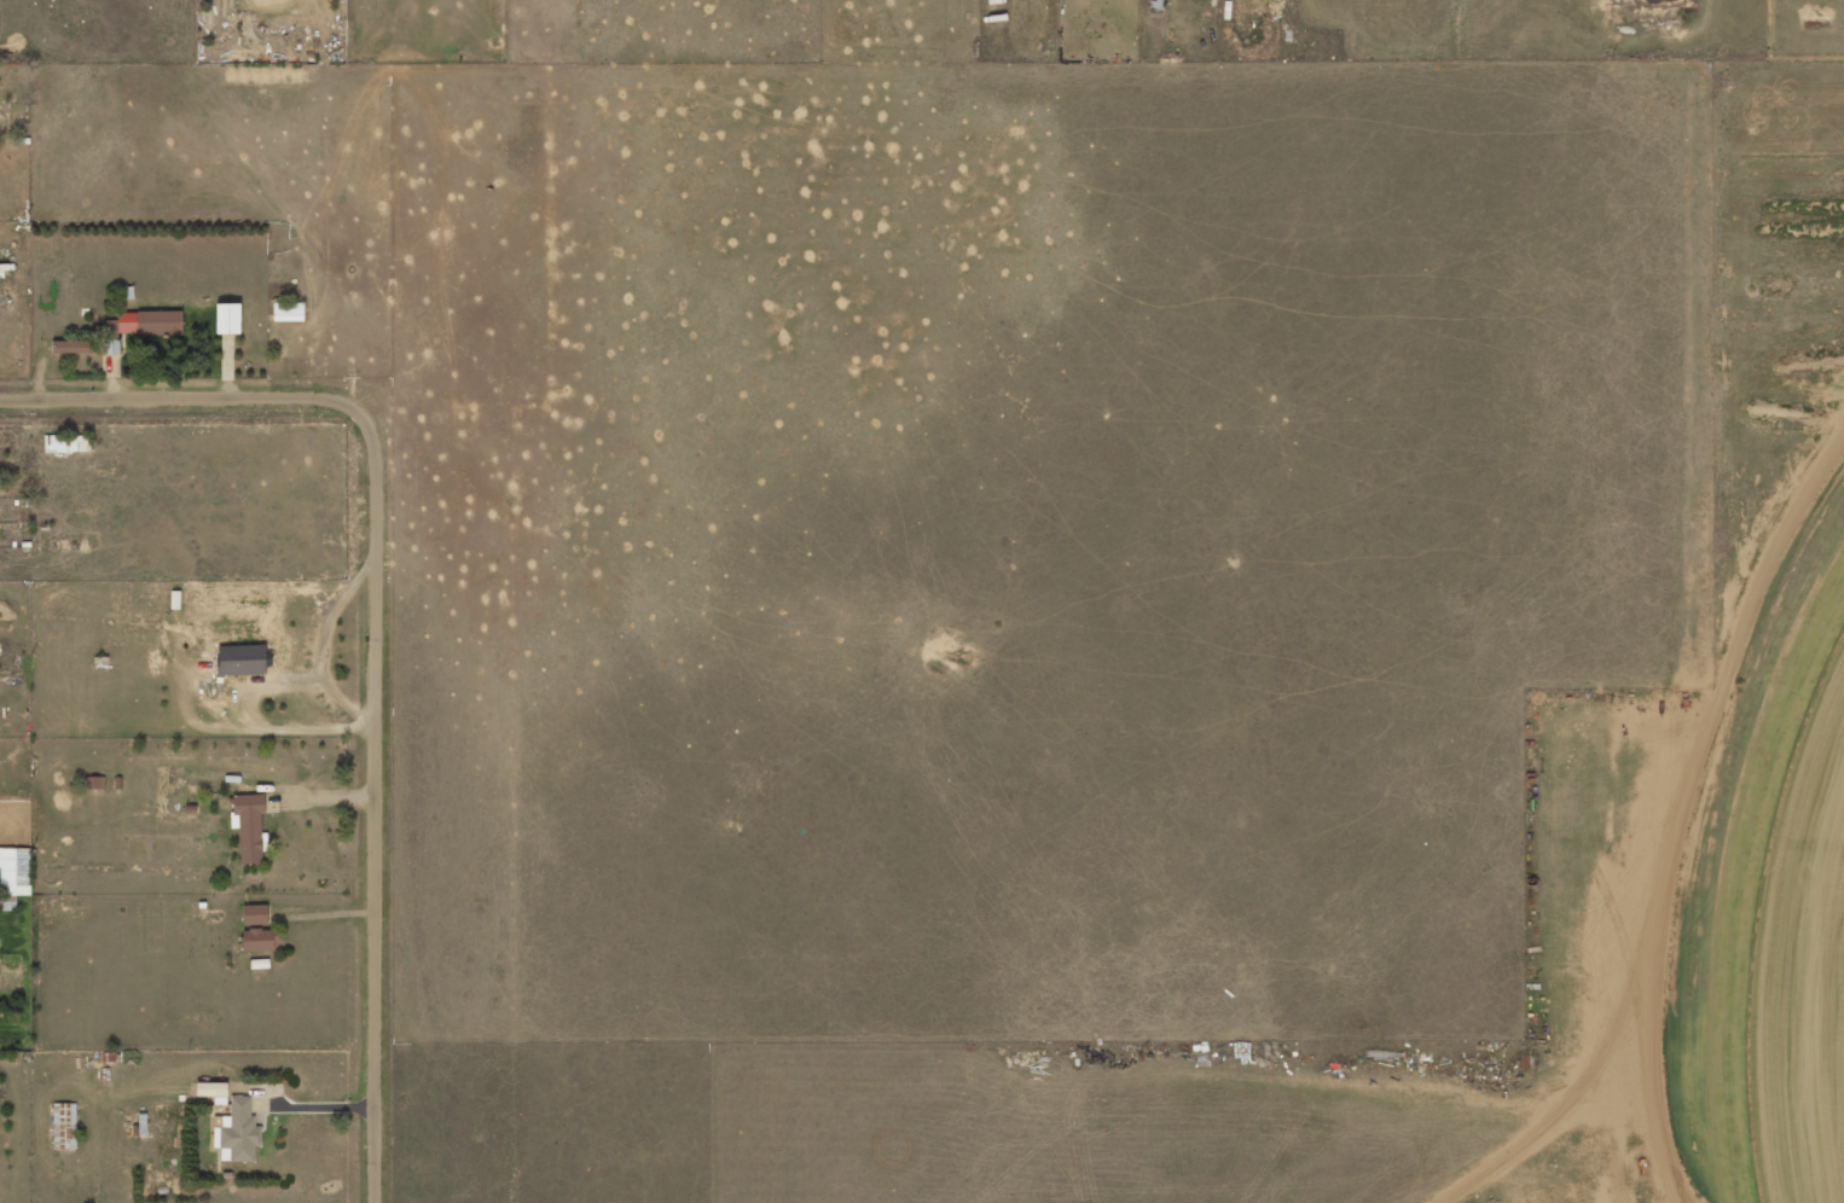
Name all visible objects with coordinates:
building: (286, 312)
building: (226, 318)
building: (149, 322)
building: (110, 336)
building: (71, 345)
building: (65, 443)
road: (378, 622)
building: (240, 659)
building: (93, 781)
building: (248, 826)
building: (15, 871)
building: (254, 914)
building: (259, 940)
building: (209, 1088)
building: (63, 1126)
building: (236, 1132)

